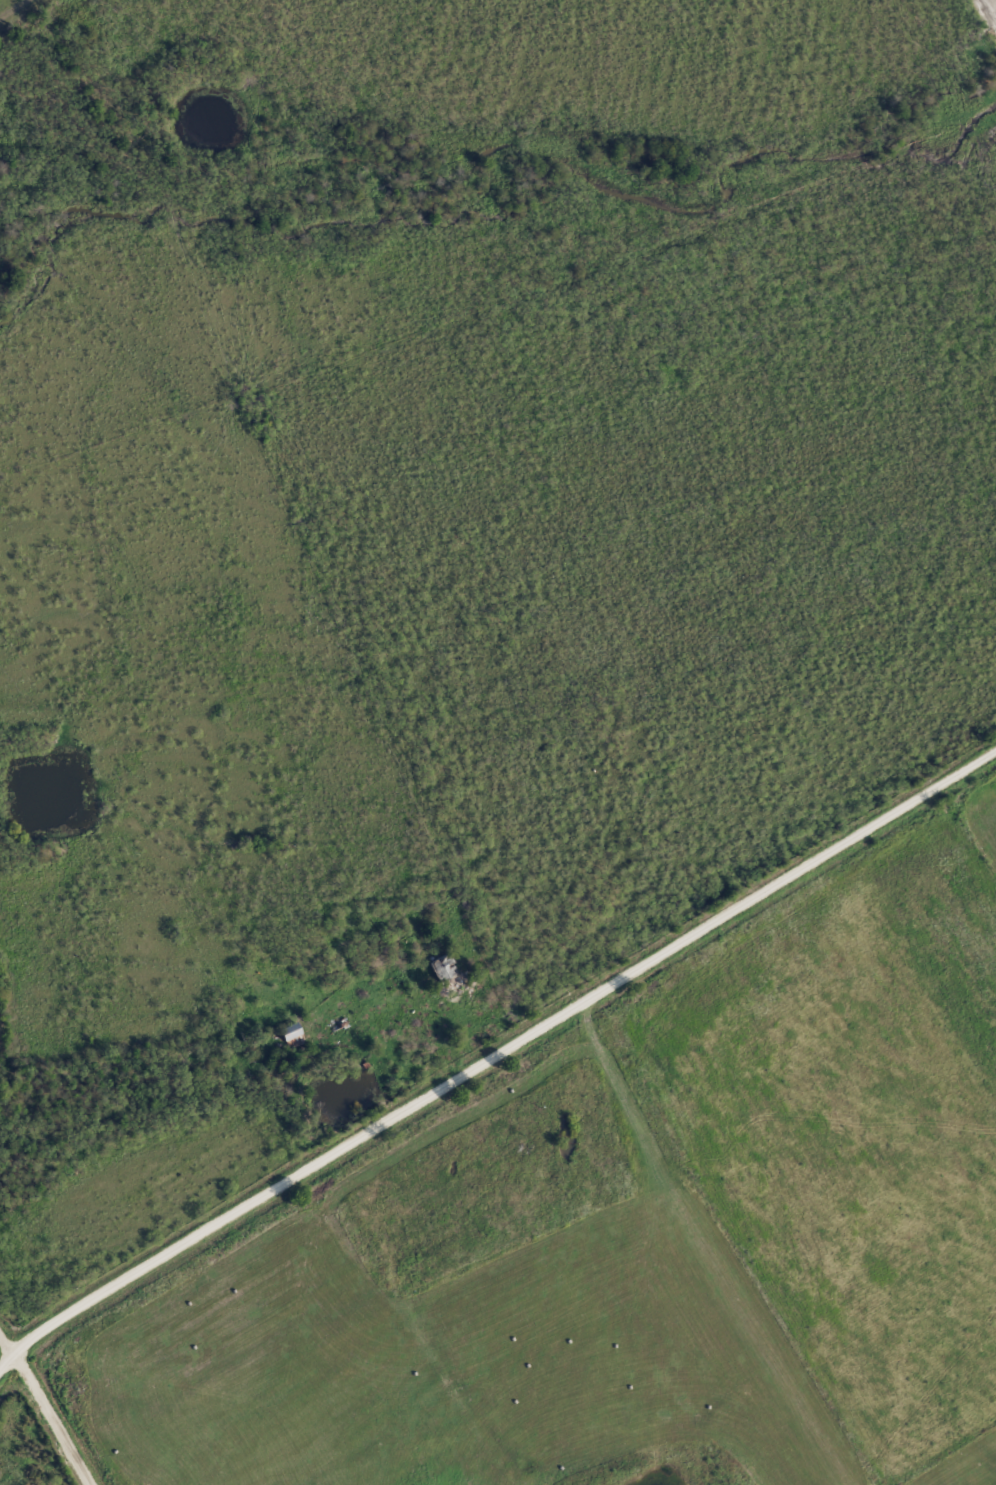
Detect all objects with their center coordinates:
road: (494, 1051)
road: (50, 1402)

